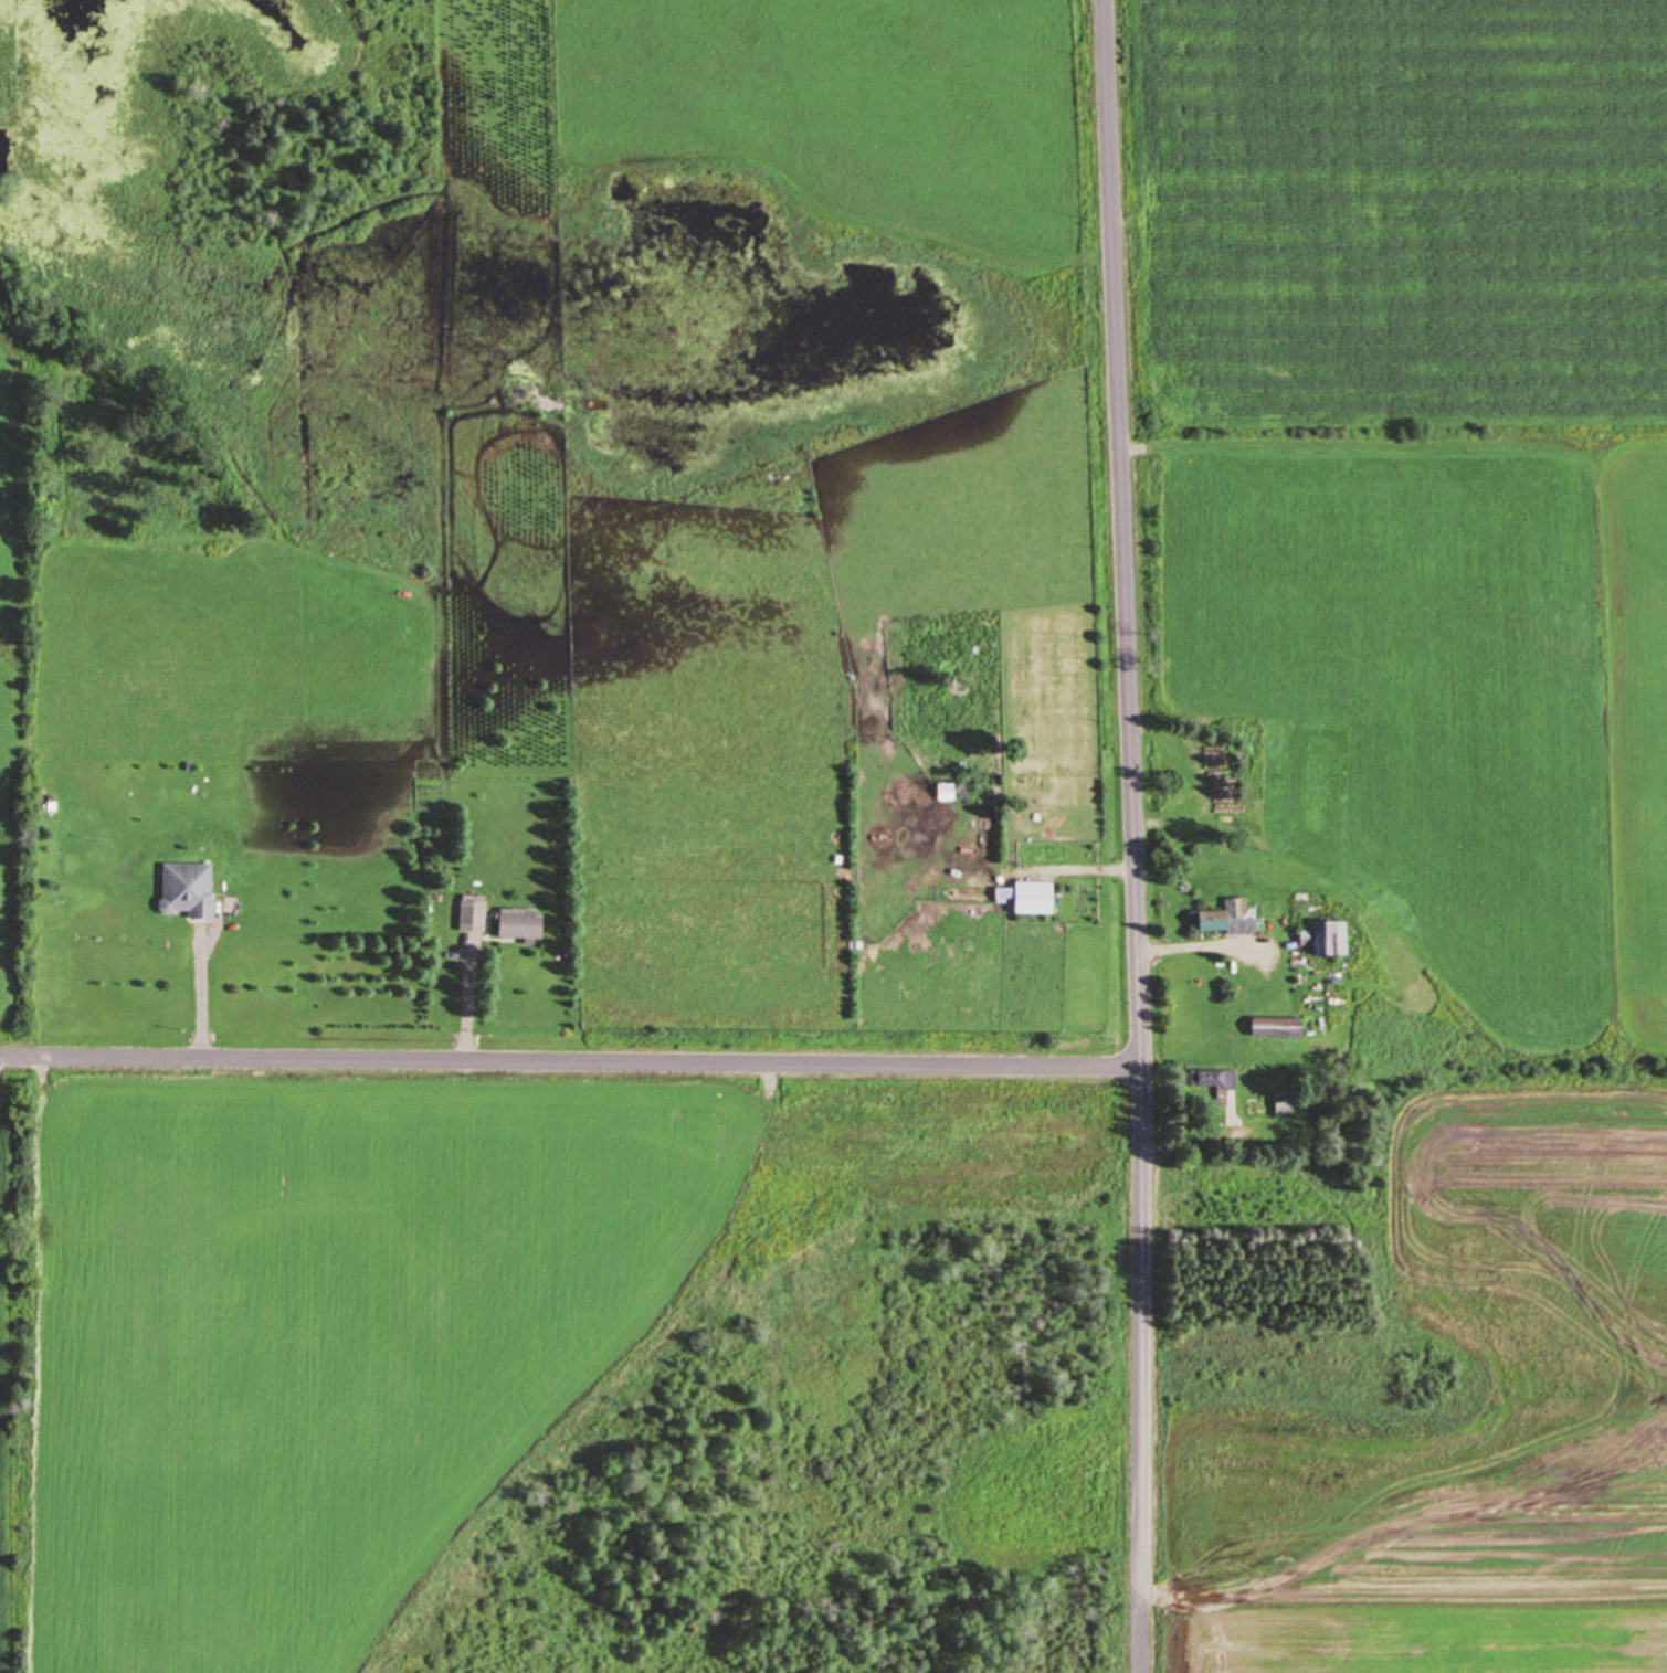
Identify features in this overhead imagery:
building: (949, 792)
building: (1252, 812)
road: (1132, 836)
road: (1077, 870)
building: (191, 890)
building: (1033, 897)
building: (475, 914)
building: (1224, 917)
building: (524, 926)
building: (1328, 939)
road: (1190, 947)
road: (201, 1004)
road: (467, 1008)
building: (1283, 1026)
road: (570, 1061)
building: (1215, 1082)
building: (1287, 1102)
road: (1185, 1143)

